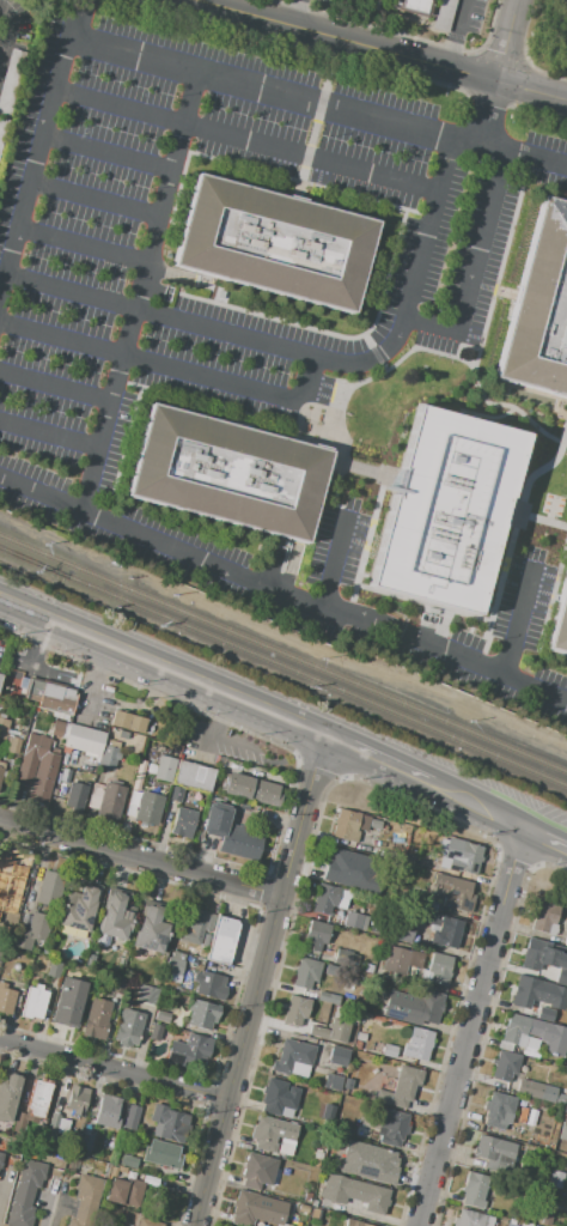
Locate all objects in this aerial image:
building: (322, 0)
building: (413, 6)
road: (79, 10)
road: (291, 12)
building: (443, 16)
road: (7, 34)
road: (453, 34)
road: (510, 40)
parking lot: (10, 48)
road: (380, 49)
road: (0, 55)
road: (256, 91)
road: (488, 114)
road: (246, 139)
road: (106, 154)
road: (508, 154)
road: (36, 157)
road: (94, 198)
road: (83, 244)
building: (274, 244)
road: (474, 268)
road: (71, 291)
road: (139, 293)
building: (539, 306)
road: (368, 359)
road: (171, 369)
road: (55, 384)
road: (512, 407)
road: (486, 415)
road: (49, 433)
building: (227, 473)
road: (525, 484)
building: (449, 511)
road: (158, 542)
railway: (36, 551)
road: (331, 558)
railway: (33, 562)
railway: (33, 563)
road: (517, 625)
building: (560, 625)
road: (443, 653)
building: (0, 669)
road: (164, 669)
railway: (319, 669)
building: (0, 676)
railway: (317, 681)
building: (20, 687)
building: (50, 698)
road: (220, 716)
building: (32, 717)
building: (127, 723)
building: (2, 728)
building: (78, 736)
building: (12, 746)
building: (109, 754)
road: (379, 761)
building: (1, 769)
building: (37, 769)
building: (164, 769)
building: (65, 776)
building: (193, 776)
building: (252, 789)
building: (54, 791)
building: (61, 791)
building: (176, 795)
building: (75, 796)
building: (110, 802)
building: (243, 806)
building: (148, 808)
road: (477, 808)
parking lot: (554, 814)
building: (183, 821)
road: (300, 821)
building: (362, 821)
building: (374, 825)
building: (346, 826)
building: (230, 833)
road: (547, 836)
road: (547, 845)
building: (458, 855)
building: (335, 862)
building: (425, 863)
road: (139, 869)
building: (7, 874)
building: (49, 888)
building: (453, 892)
building: (329, 898)
building: (428, 904)
building: (83, 908)
building: (114, 917)
building: (544, 917)
building: (24, 918)
building: (356, 921)
building: (196, 927)
building: (551, 929)
building: (151, 930)
building: (374, 930)
building: (444, 930)
building: (31, 931)
building: (400, 935)
building: (316, 936)
building: (221, 940)
building: (566, 945)
building: (0, 948)
building: (201, 954)
building: (535, 954)
building: (553, 957)
building: (353, 960)
building: (400, 960)
building: (175, 964)
building: (53, 967)
building: (439, 969)
building: (306, 973)
building: (561, 975)
building: (154, 982)
building: (118, 985)
building: (187, 985)
building: (209, 985)
building: (525, 993)
building: (147, 995)
building: (6, 999)
building: (328, 999)
building: (543, 999)
building: (33, 1002)
building: (68, 1002)
building: (429, 1005)
building: (368, 1006)
building: (295, 1010)
building: (201, 1014)
building: (545, 1014)
building: (97, 1018)
building: (161, 1018)
building: (128, 1027)
road: (469, 1027)
building: (154, 1032)
building: (318, 1032)
building: (535, 1033)
building: (360, 1037)
building: (531, 1043)
building: (417, 1044)
building: (358, 1045)
building: (505, 1046)
building: (189, 1050)
building: (389, 1051)
building: (530, 1052)
building: (292, 1056)
building: (339, 1056)
road: (234, 1066)
building: (505, 1066)
road: (112, 1068)
building: (299, 1068)
building: (333, 1082)
building: (347, 1084)
building: (402, 1087)
building: (530, 1088)
building: (8, 1097)
building: (278, 1097)
building: (560, 1098)
building: (37, 1099)
building: (75, 1101)
building: (565, 1107)
building: (499, 1110)
building: (108, 1111)
building: (287, 1112)
building: (327, 1115)
building: (522, 1116)
building: (132, 1118)
building: (169, 1124)
building: (63, 1127)
building: (51, 1128)
building: (392, 1128)
building: (359, 1133)
building: (563, 1133)
building: (273, 1135)
building: (86, 1143)
building: (0, 1153)
building: (494, 1153)
building: (161, 1155)
building: (317, 1155)
building: (1, 1158)
building: (128, 1163)
building: (380, 1164)
building: (252, 1171)
building: (555, 1178)
building: (474, 1190)
building: (124, 1192)
building: (355, 1192)
building: (25, 1194)
building: (306, 1196)
building: (86, 1201)
building: (313, 1203)
building: (301, 1209)
building: (248, 1210)
building: (313, 1213)
building: (474, 1219)
building: (297, 1220)
building: (547, 1220)
building: (517, 1222)
building: (146, 1224)
building: (355, 1224)
building: (506, 1225)

